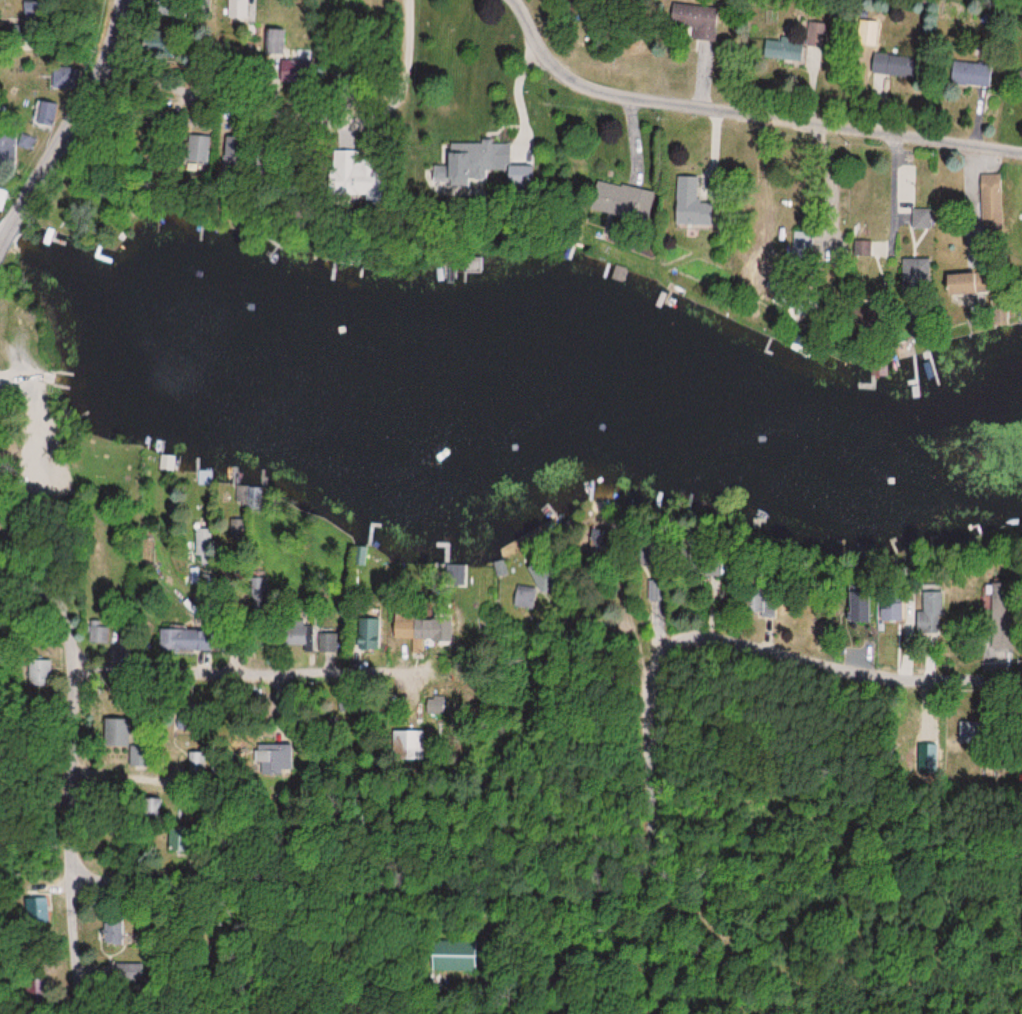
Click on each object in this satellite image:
building: (235, 9)
building: (694, 19)
building: (816, 35)
building: (271, 42)
building: (781, 51)
building: (892, 68)
building: (970, 74)
building: (65, 77)
building: (1020, 83)
road: (79, 107)
road: (301, 110)
road: (745, 112)
building: (45, 114)
building: (26, 141)
building: (194, 149)
building: (5, 154)
building: (468, 168)
building: (358, 172)
building: (2, 196)
building: (618, 201)
building: (687, 204)
road: (10, 227)
building: (861, 251)
building: (955, 285)
park: (45, 455)
building: (236, 527)
building: (526, 596)
building: (931, 612)
building: (443, 626)
building: (415, 628)
building: (369, 631)
building: (296, 633)
building: (97, 634)
road: (731, 638)
building: (185, 640)
building: (328, 642)
road: (189, 668)
building: (40, 672)
road: (78, 702)
building: (119, 732)
building: (415, 743)
building: (279, 757)
road: (380, 883)
building: (42, 910)
building: (115, 932)
building: (458, 956)

